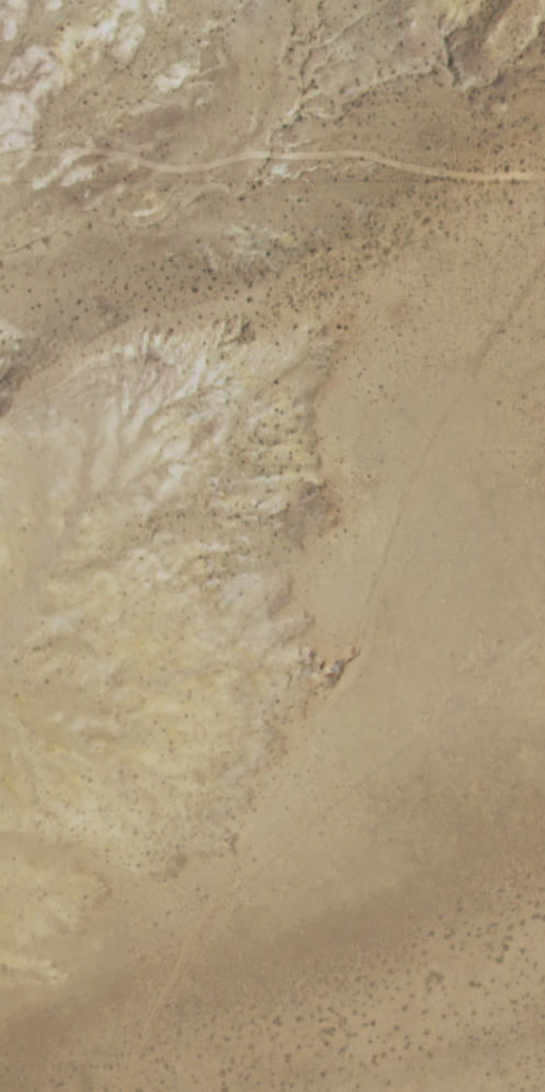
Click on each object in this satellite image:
road: (488, 616)

